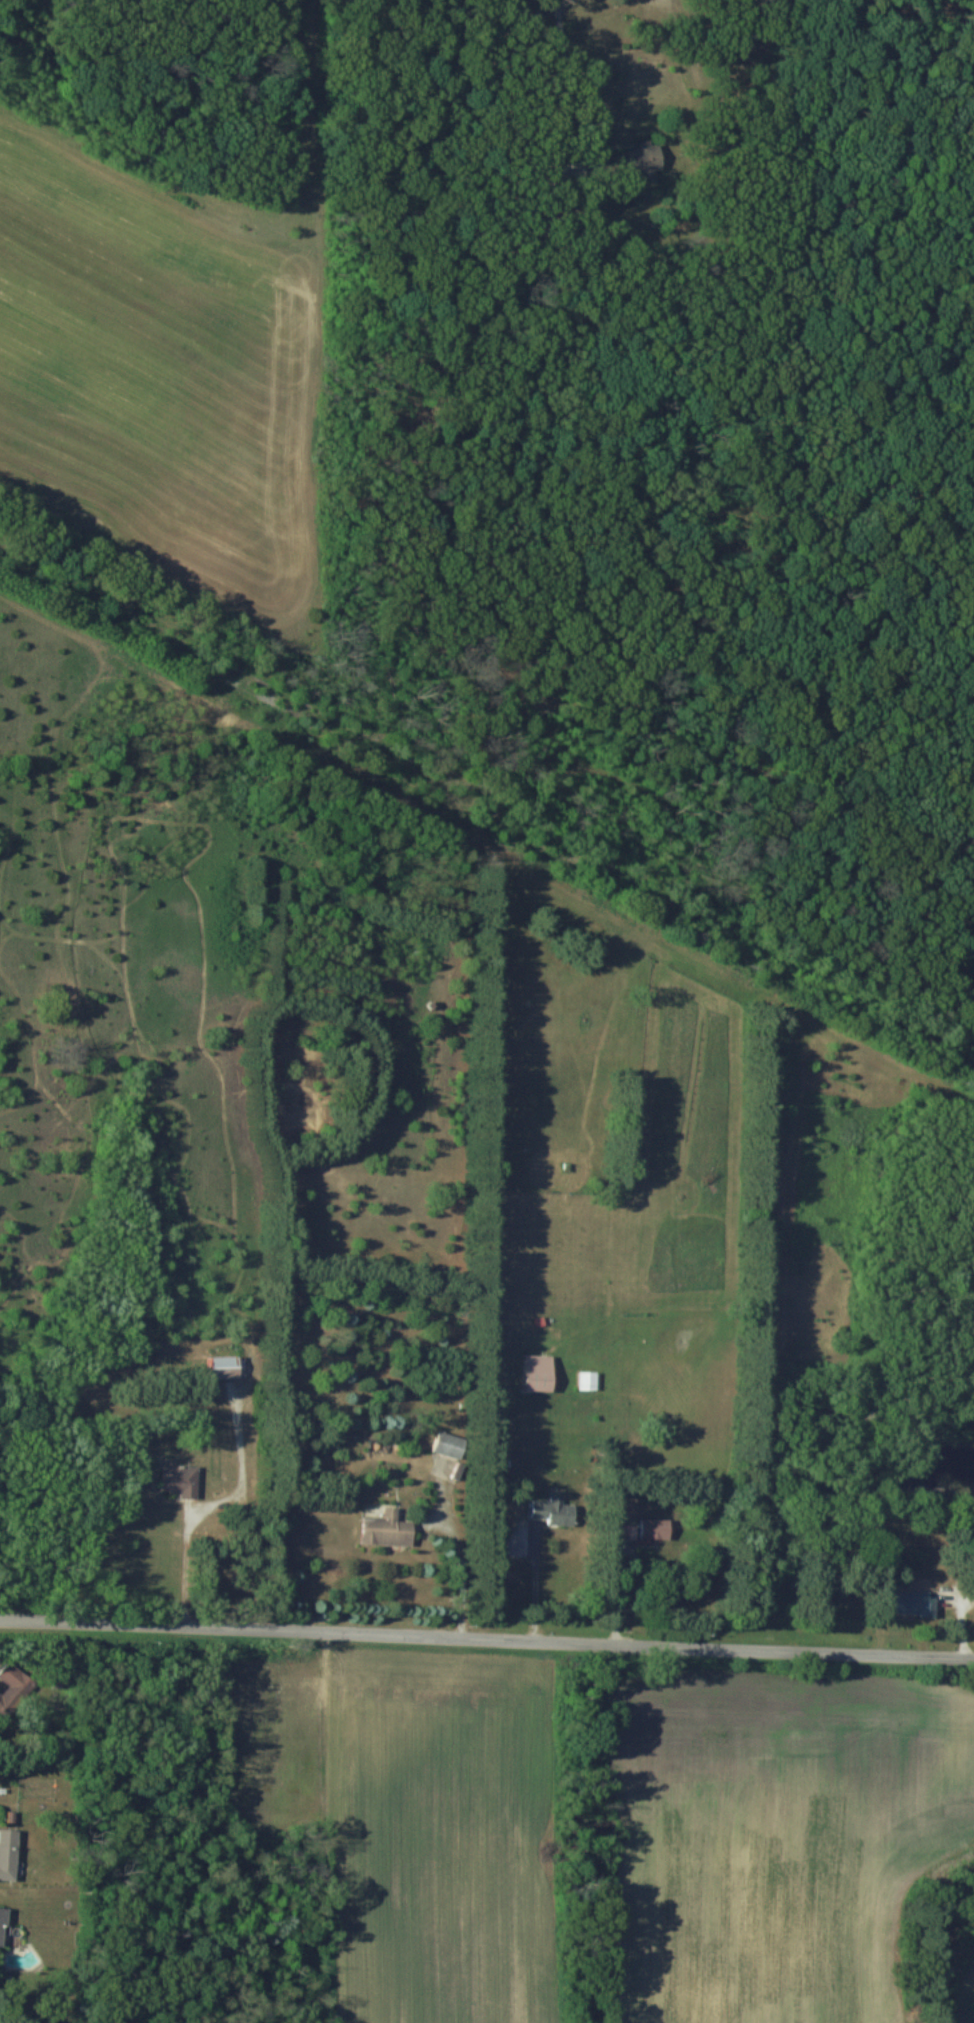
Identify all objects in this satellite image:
building: (231, 1366)
building: (543, 1372)
building: (591, 1380)
building: (182, 1479)
building: (390, 1529)
road: (487, 1638)
building: (10, 1854)
building: (5, 1925)

